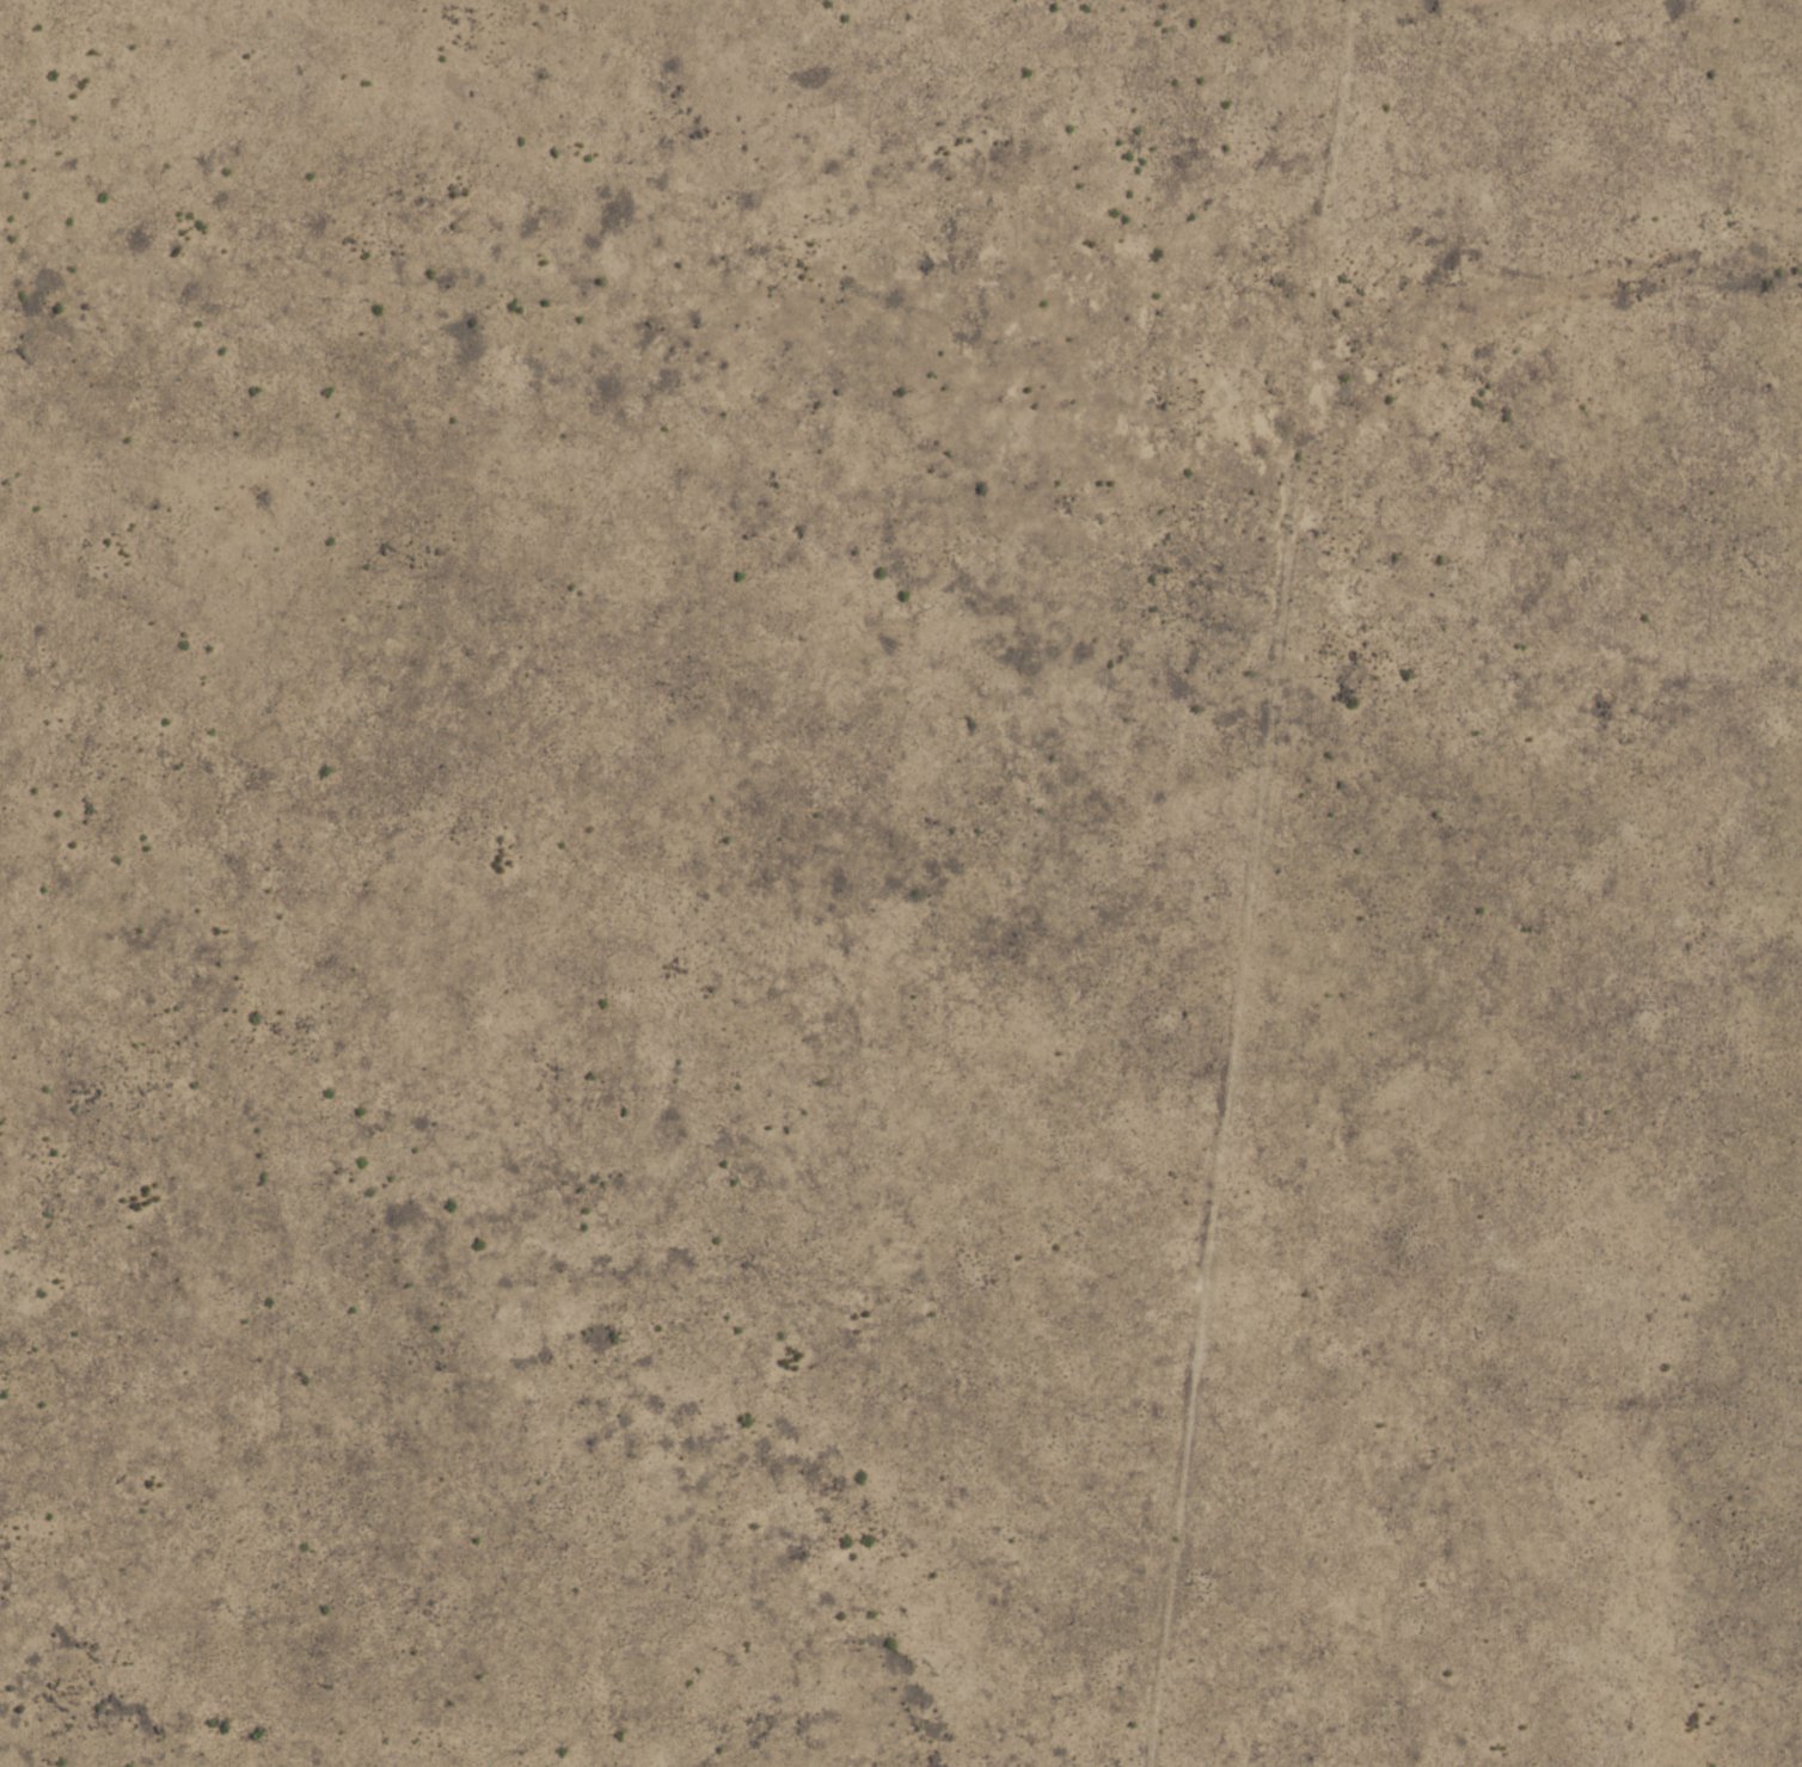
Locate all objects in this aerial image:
road: (1250, 883)

